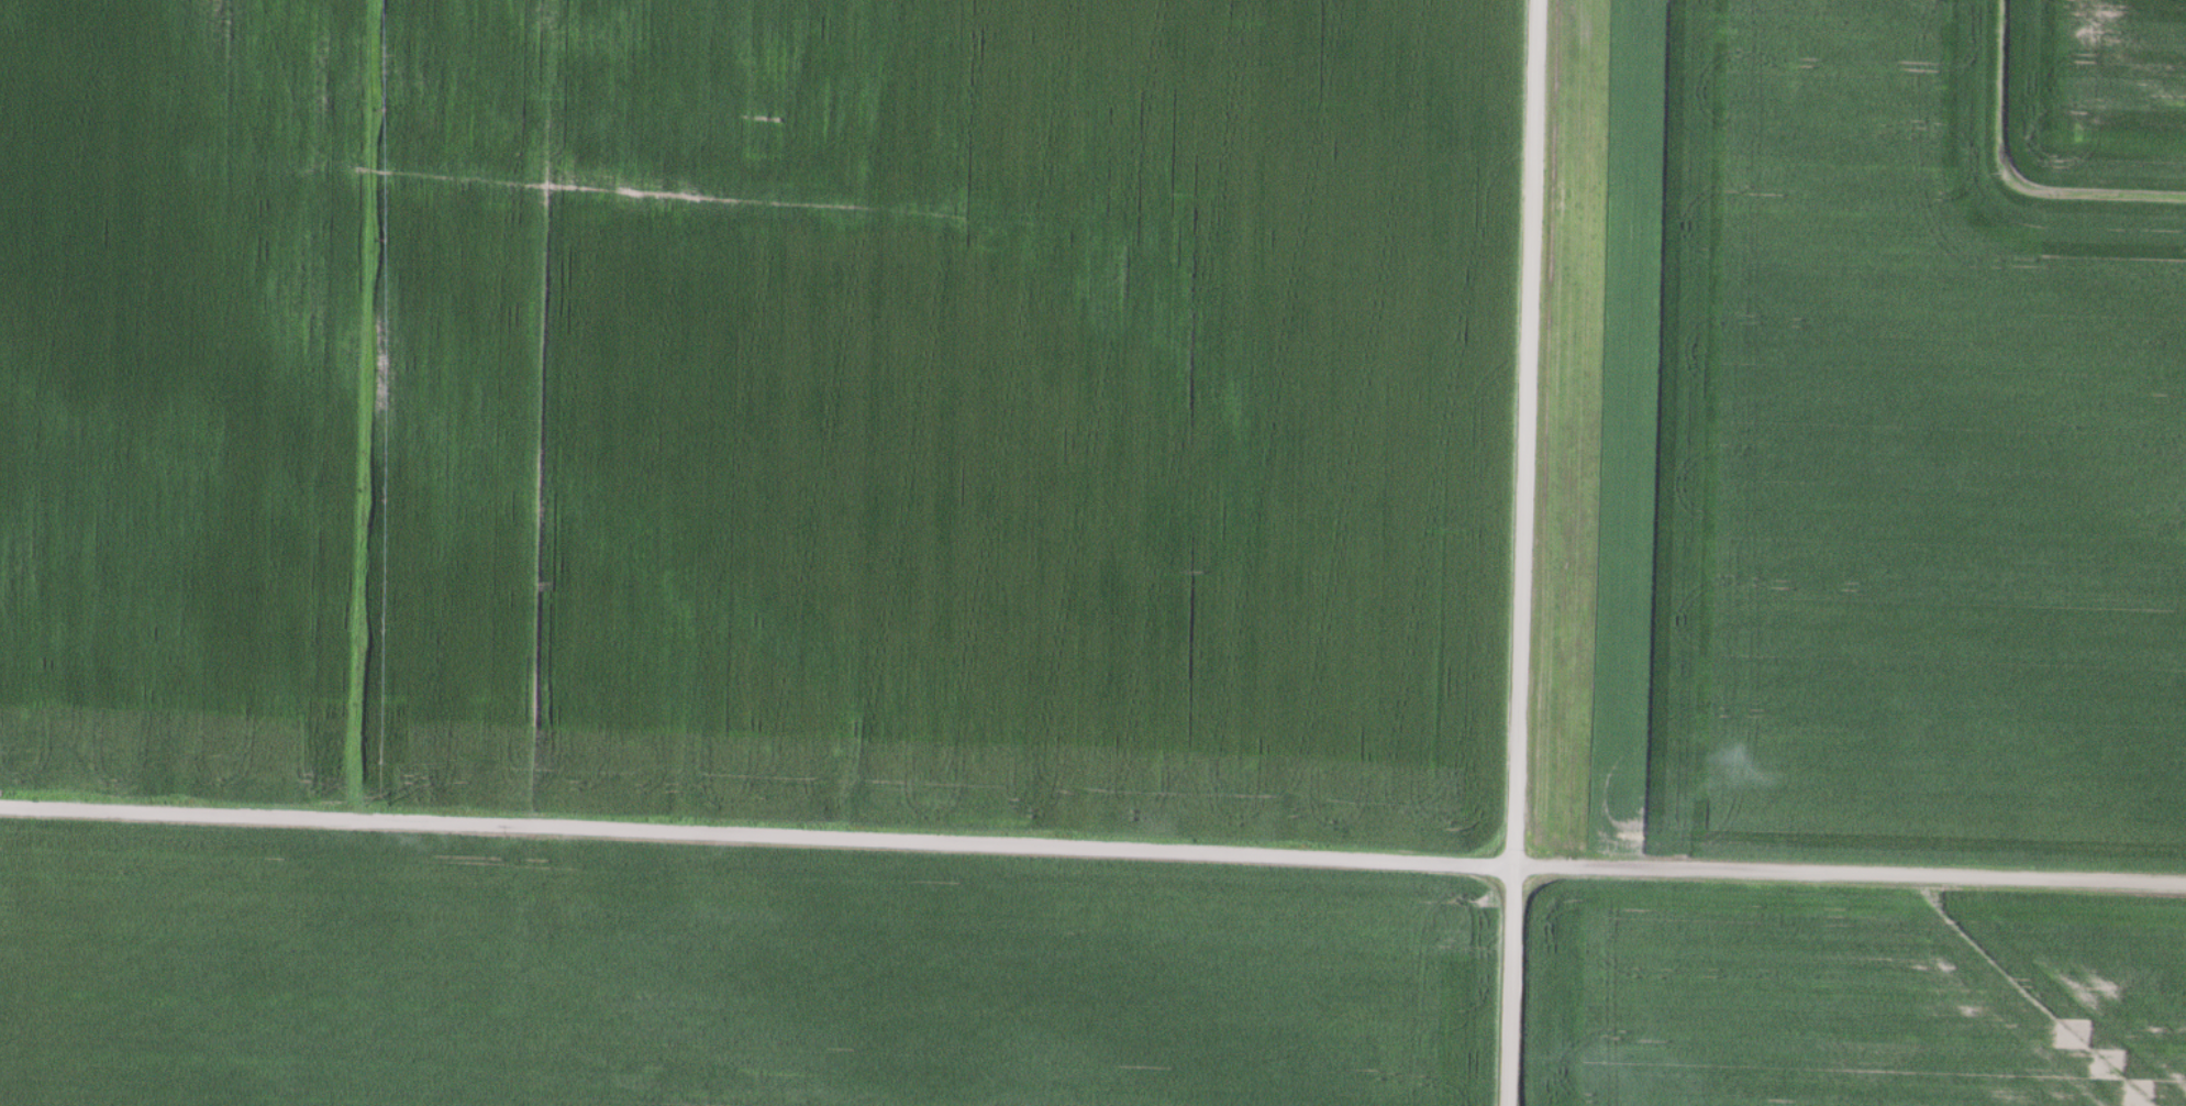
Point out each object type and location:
road: (1527, 428)
road: (1092, 841)
road: (1510, 981)

